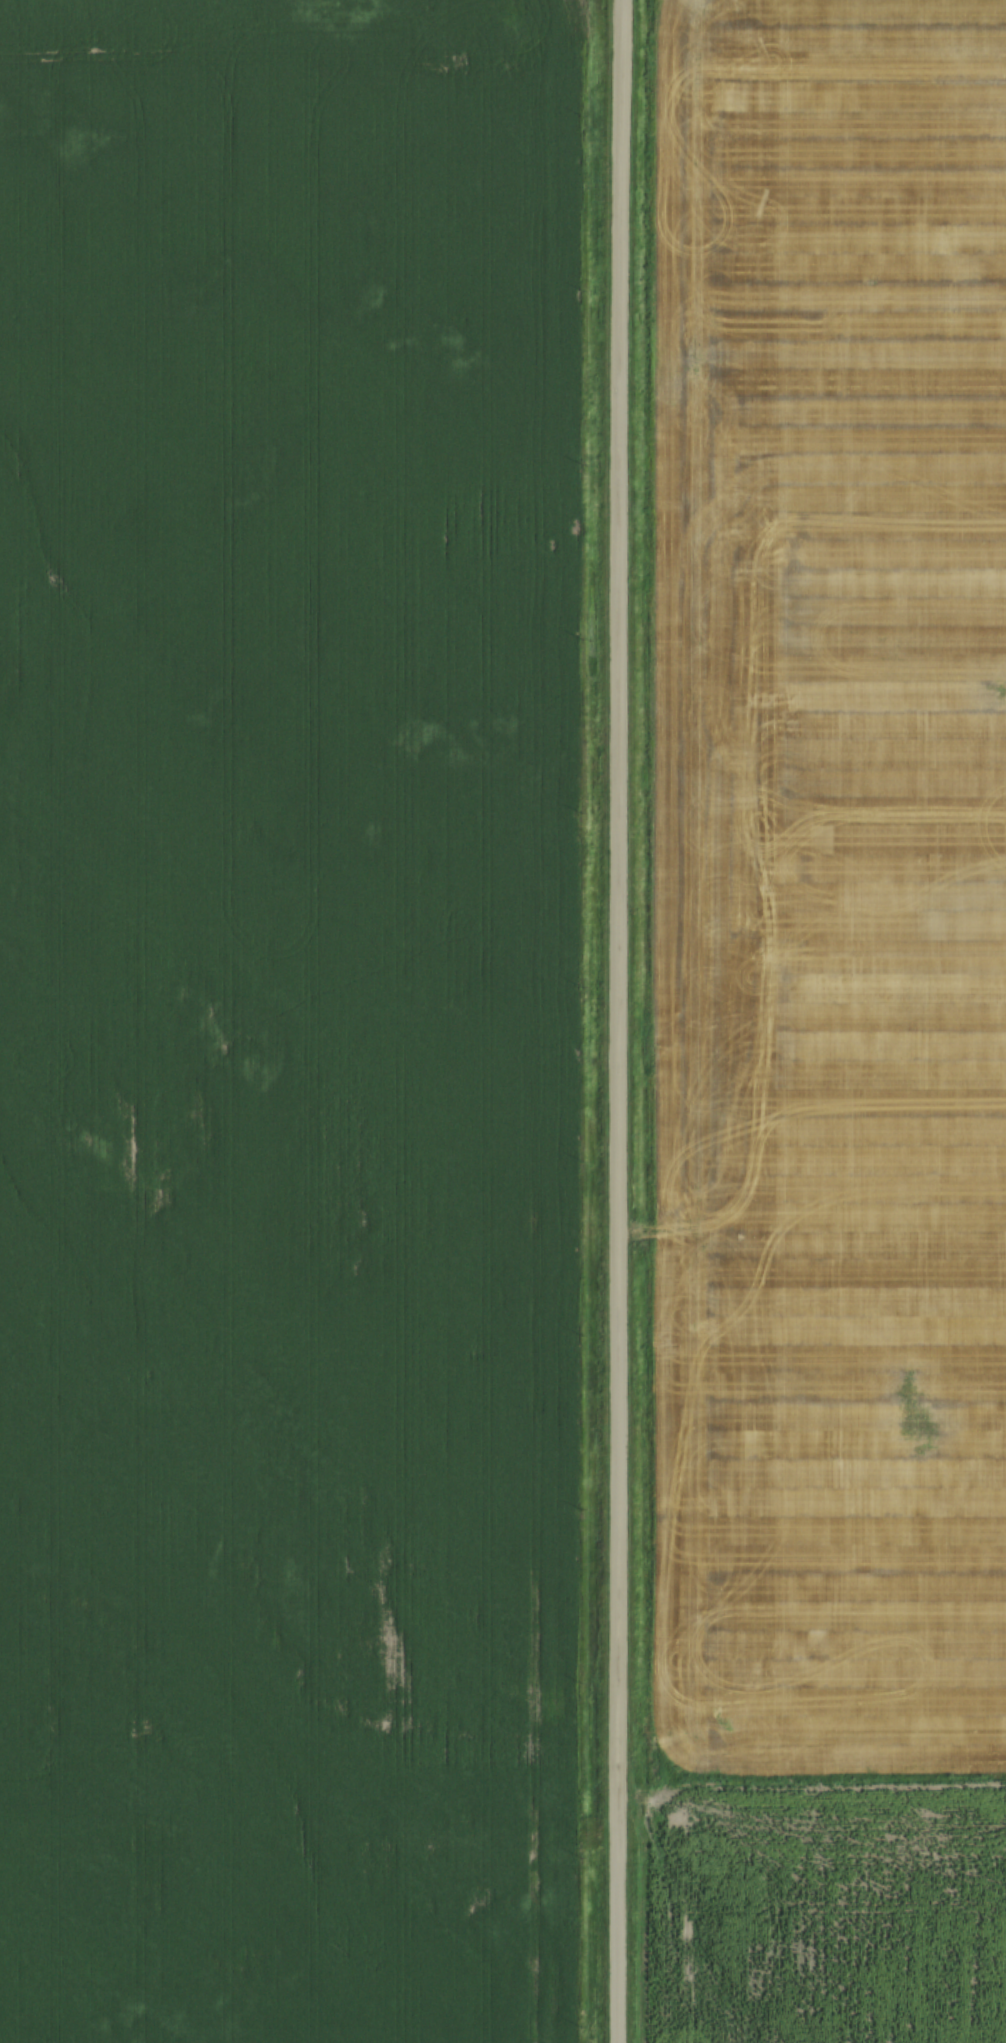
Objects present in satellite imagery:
road: (619, 1021)

